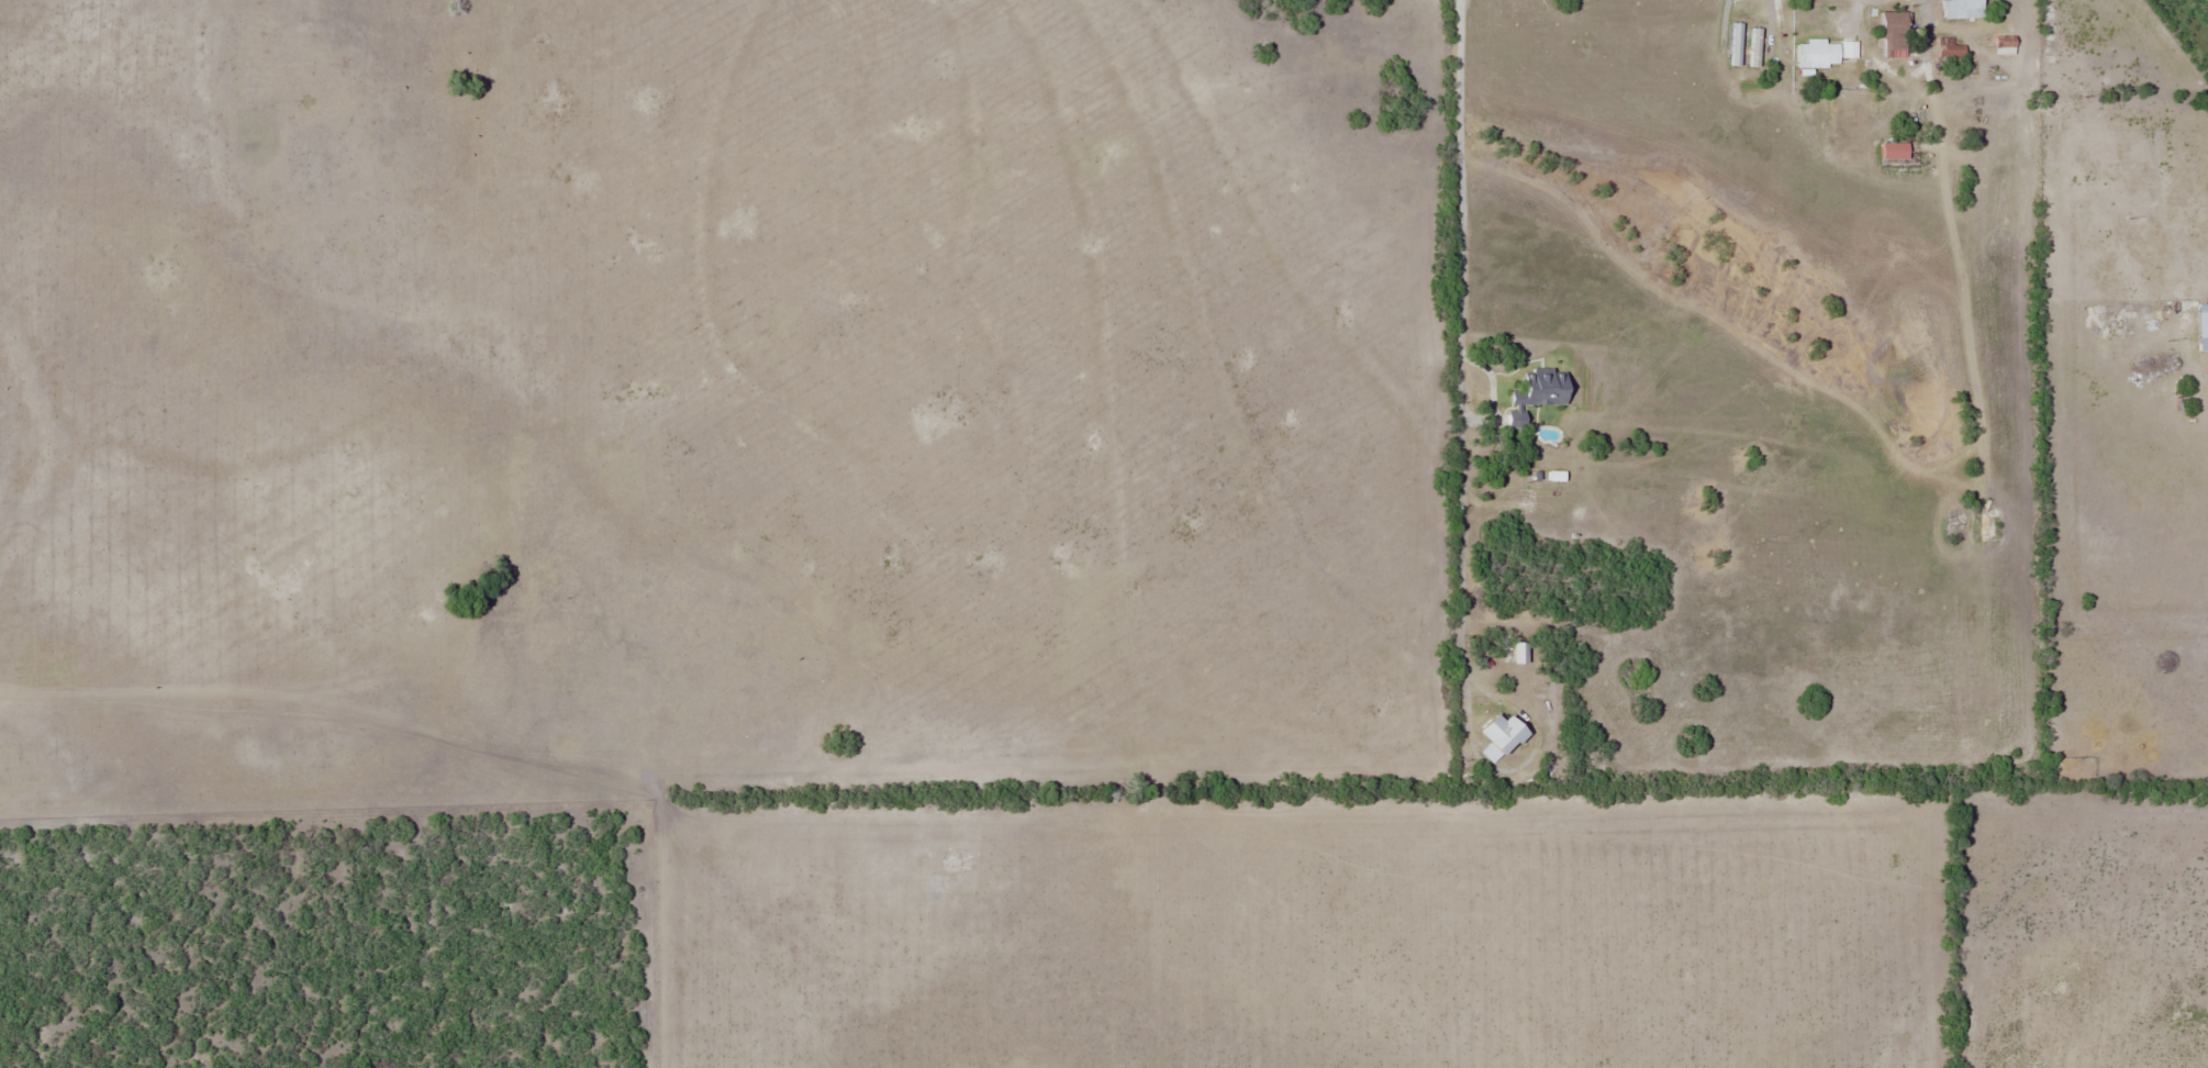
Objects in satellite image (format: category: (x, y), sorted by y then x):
building: (1963, 9)
building: (1893, 34)
building: (1817, 53)
building: (1894, 151)
building: (1538, 392)
building: (1520, 653)
building: (1504, 733)

